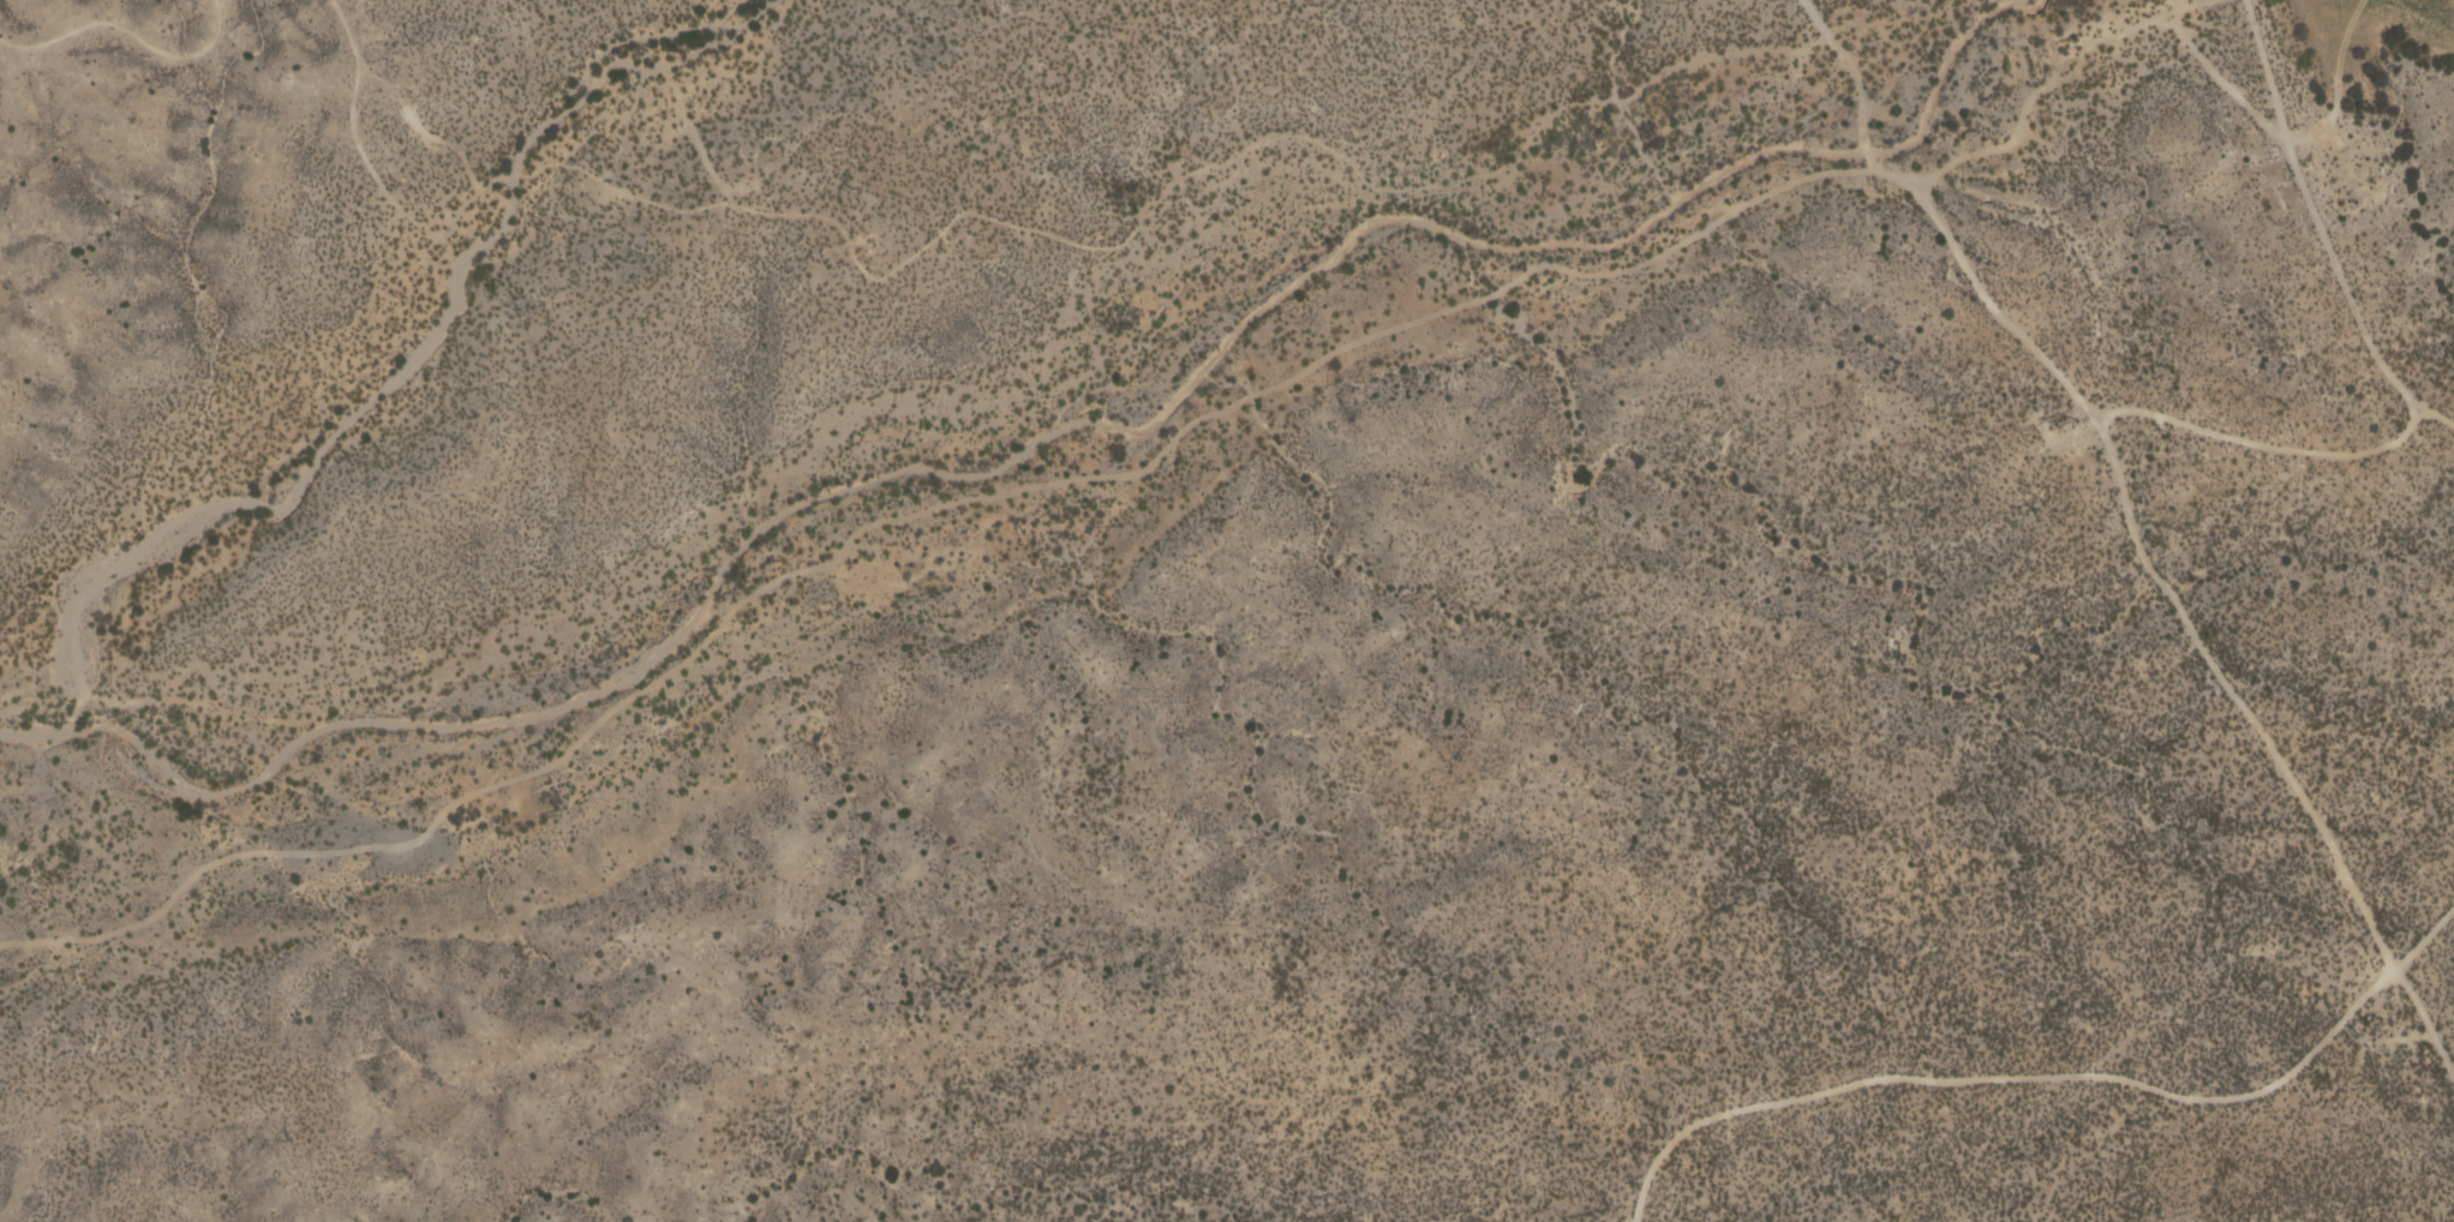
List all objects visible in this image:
dam: (2267, 62)
road: (2311, 211)
power tower: (2066, 424)
road: (2129, 525)
power tower: (2384, 1028)
road: (2049, 1076)

